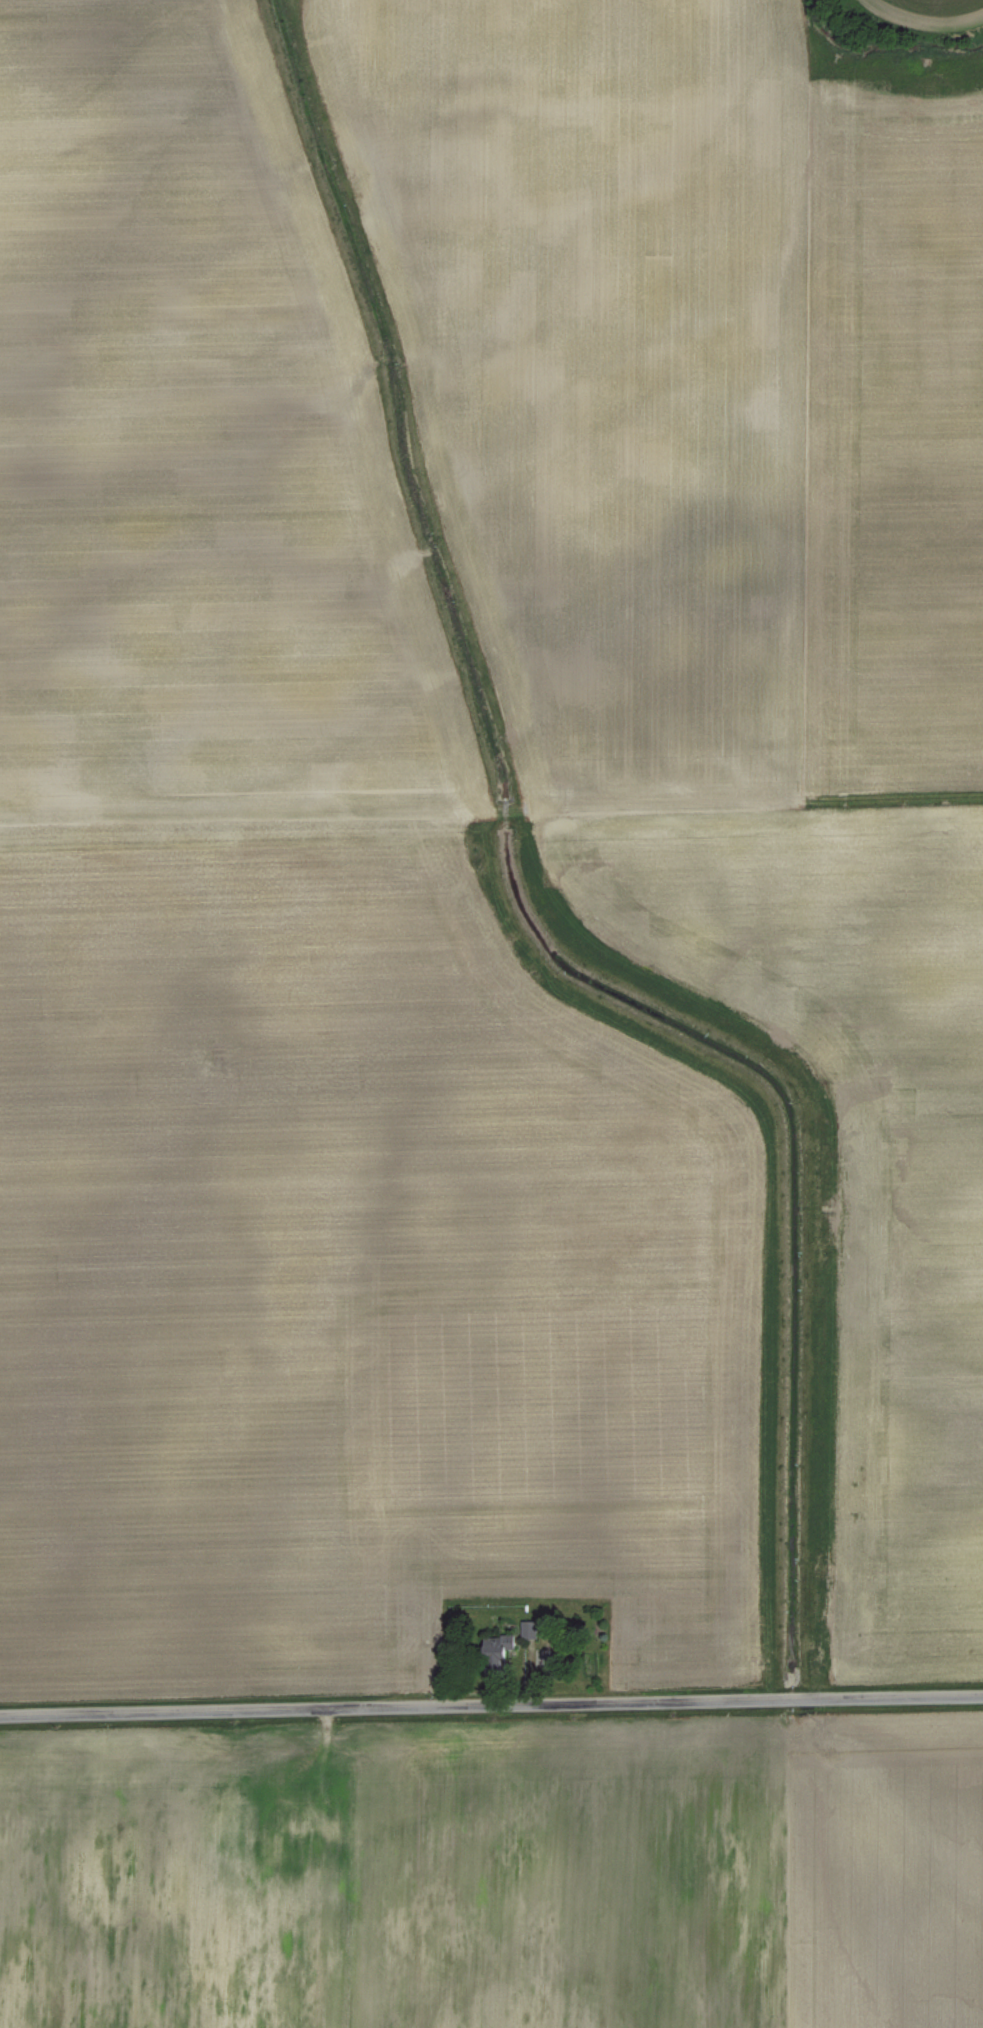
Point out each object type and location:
road: (491, 1704)

